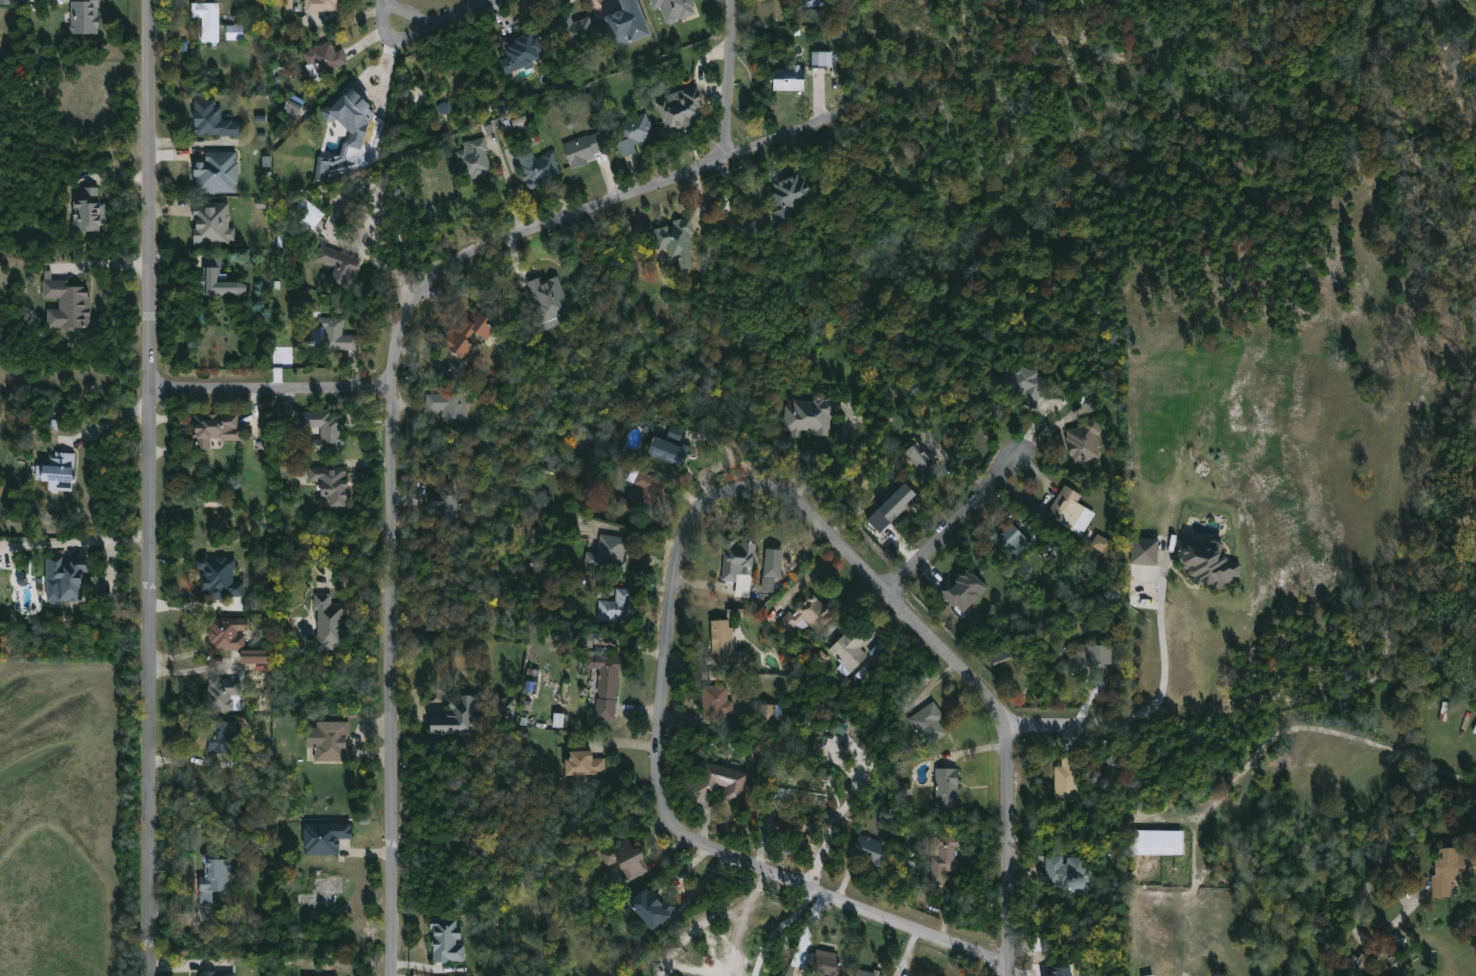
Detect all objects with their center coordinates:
building: (6, 2)
building: (322, 5)
building: (674, 9)
building: (87, 16)
building: (210, 20)
road: (431, 23)
building: (627, 23)
building: (569, 30)
building: (235, 32)
building: (520, 49)
building: (322, 59)
road: (387, 59)
building: (822, 59)
building: (787, 78)
building: (350, 105)
building: (295, 106)
building: (680, 110)
road: (729, 118)
building: (216, 119)
building: (520, 123)
building: (632, 132)
building: (581, 149)
building: (472, 158)
building: (534, 166)
building: (323, 167)
building: (220, 171)
building: (788, 196)
building: (315, 210)
building: (91, 211)
road: (575, 212)
building: (215, 224)
building: (674, 240)
building: (336, 266)
building: (222, 277)
building: (549, 301)
building: (67, 304)
building: (464, 334)
building: (340, 335)
building: (1023, 383)
road: (273, 386)
building: (447, 404)
building: (808, 417)
road: (108, 422)
building: (218, 429)
building: (327, 430)
building: (1083, 441)
building: (664, 452)
building: (920, 460)
building: (62, 472)
building: (335, 486)
building: (644, 487)
road: (150, 488)
building: (892, 507)
building: (441, 508)
building: (1070, 511)
road: (955, 522)
building: (1008, 540)
road: (81, 541)
building: (1101, 543)
building: (1142, 551)
building: (607, 554)
building: (736, 560)
building: (1207, 563)
building: (771, 567)
road: (810, 573)
building: (72, 577)
building: (223, 577)
building: (962, 591)
road: (114, 592)
building: (614, 608)
building: (810, 617)
building: (335, 624)
building: (228, 634)
building: (586, 640)
building: (722, 643)
building: (850, 652)
building: (256, 656)
building: (1089, 657)
road: (968, 674)
road: (1165, 675)
road: (389, 680)
building: (604, 683)
building: (225, 694)
building: (710, 702)
building: (771, 712)
building: (468, 714)
building: (926, 724)
road: (1047, 725)
road: (1316, 729)
building: (228, 736)
building: (330, 741)
building: (580, 762)
building: (1066, 777)
building: (721, 781)
building: (945, 789)
road: (672, 828)
building: (325, 838)
building: (1153, 841)
building: (869, 849)
building: (943, 857)
building: (619, 858)
building: (1451, 871)
building: (1067, 872)
road: (1374, 872)
building: (220, 874)
building: (648, 910)
road: (778, 929)
building: (444, 939)
building: (822, 963)
building: (1358, 963)
building: (1061, 971)
building: (209, 973)
building: (867, 973)

